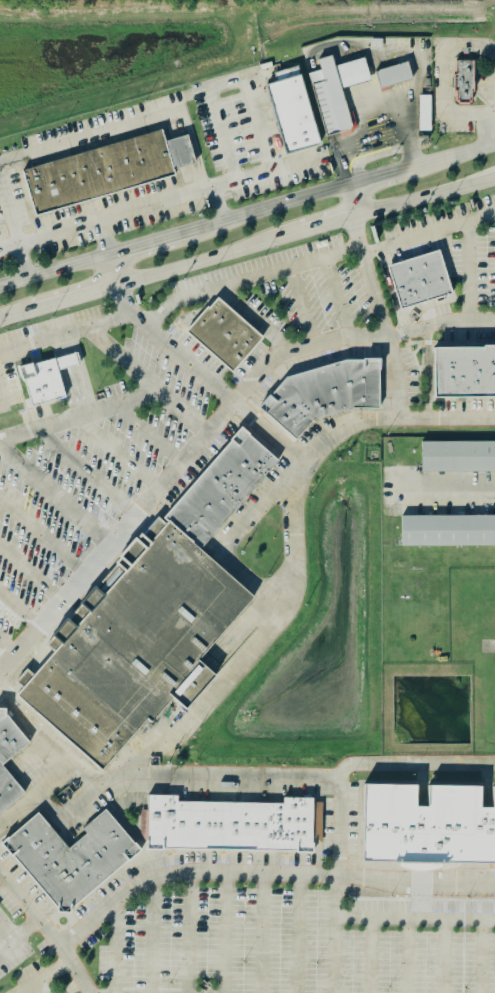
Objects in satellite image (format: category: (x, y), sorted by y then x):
road: (444, 64)
building: (392, 77)
road: (226, 82)
building: (462, 84)
building: (335, 93)
road: (489, 111)
building: (291, 113)
building: (425, 114)
road: (488, 129)
road: (91, 135)
road: (195, 148)
road: (454, 156)
building: (97, 175)
road: (258, 175)
road: (381, 177)
road: (424, 197)
road: (351, 202)
road: (218, 205)
road: (272, 209)
road: (114, 216)
road: (10, 219)
road: (327, 225)
road: (430, 234)
road: (107, 238)
road: (154, 245)
road: (213, 259)
road: (24, 262)
road: (119, 271)
road: (56, 273)
road: (249, 275)
building: (418, 280)
road: (332, 295)
road: (79, 298)
road: (386, 315)
road: (17, 316)
road: (66, 334)
building: (222, 336)
building: (62, 357)
building: (464, 371)
road: (208, 376)
building: (37, 377)
building: (323, 392)
road: (99, 411)
road: (181, 412)
road: (393, 417)
road: (215, 428)
road: (151, 435)
road: (121, 454)
building: (458, 454)
road: (88, 474)
building: (220, 488)
road: (463, 492)
road: (57, 497)
building: (448, 529)
road: (43, 536)
road: (31, 572)
road: (18, 611)
building: (138, 646)
road: (489, 646)
road: (5, 649)
road: (60, 744)
building: (8, 758)
road: (131, 778)
road: (39, 791)
building: (229, 824)
building: (426, 825)
road: (339, 827)
building: (70, 857)
road: (220, 874)
road: (423, 902)
building: (0, 907)
road: (424, 921)
road: (470, 922)
road: (299, 932)
road: (227, 933)
road: (262, 933)
road: (332, 933)
road: (190, 935)
road: (151, 938)
road: (22, 940)
road: (115, 949)
road: (372, 956)
road: (408, 957)
road: (482, 957)
road: (76, 968)
road: (45, 976)

